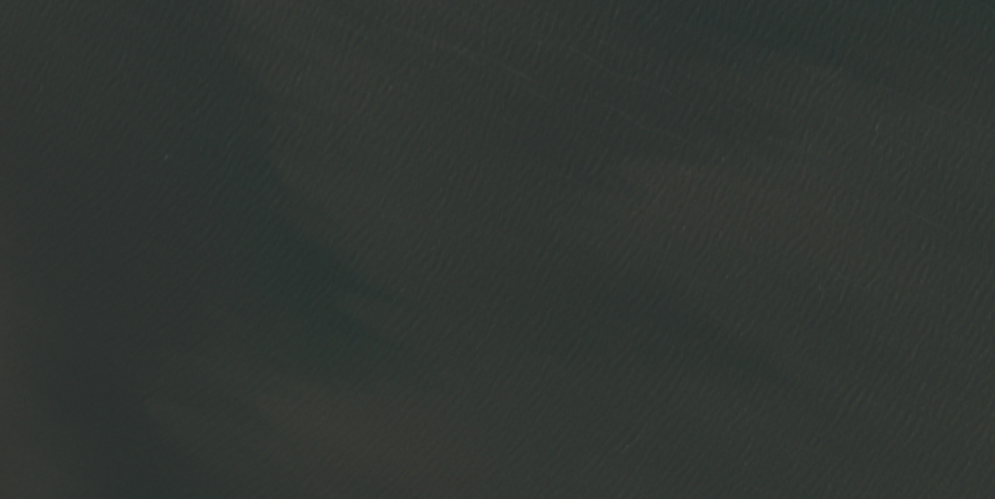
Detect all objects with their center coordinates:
river: (851, 366)

